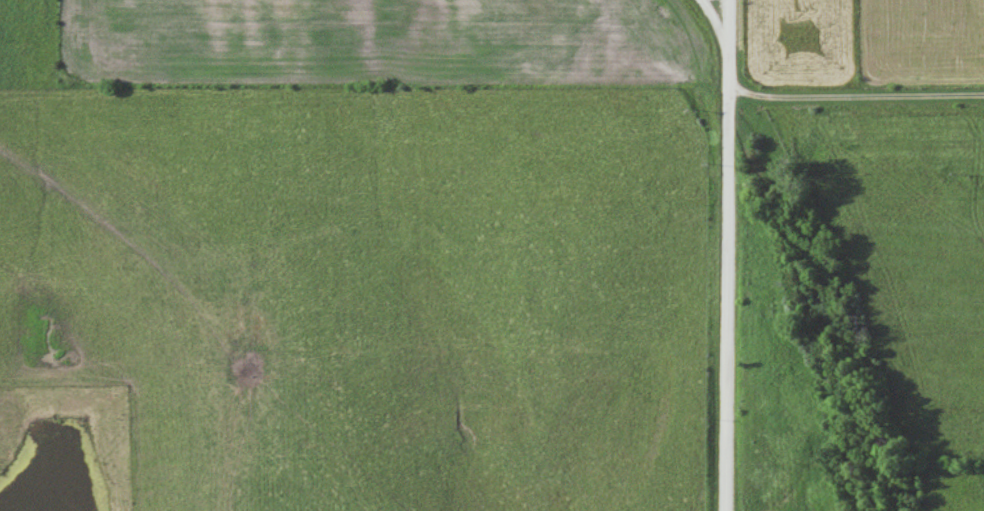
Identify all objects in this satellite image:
road: (717, 13)
road: (728, 255)

